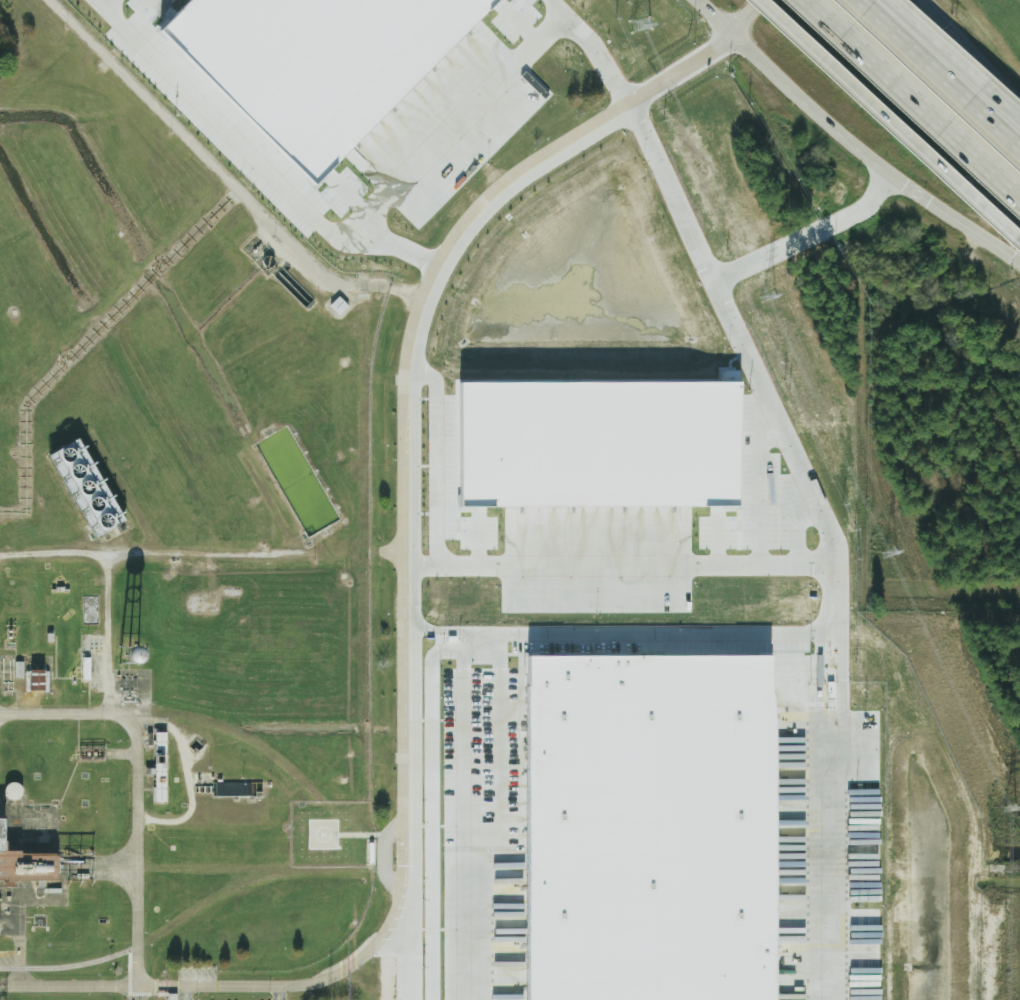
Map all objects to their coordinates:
road: (98, 1)
road: (746, 17)
power tower: (639, 24)
road: (976, 41)
road: (593, 49)
road: (954, 58)
building: (315, 61)
road: (939, 74)
road: (914, 97)
railway: (966, 111)
road: (888, 122)
road: (457, 124)
road: (848, 141)
road: (251, 155)
road: (221, 173)
road: (722, 272)
power tower: (767, 300)
building: (599, 445)
road: (434, 454)
building: (86, 488)
power plant: (486, 523)
road: (161, 550)
power tower: (889, 555)
road: (775, 565)
road: (403, 609)
road: (645, 636)
building: (85, 668)
building: (19, 669)
building: (40, 679)
road: (158, 723)
railway: (258, 746)
road: (138, 762)
building: (160, 768)
road: (828, 780)
road: (460, 788)
power tower: (1013, 811)
building: (649, 827)
building: (26, 864)
railway: (100, 868)
railway: (1012, 868)
railway: (573, 869)
road: (19, 915)
railway: (166, 929)
road: (389, 960)
road: (186, 992)
road: (280, 992)
road: (139, 993)

